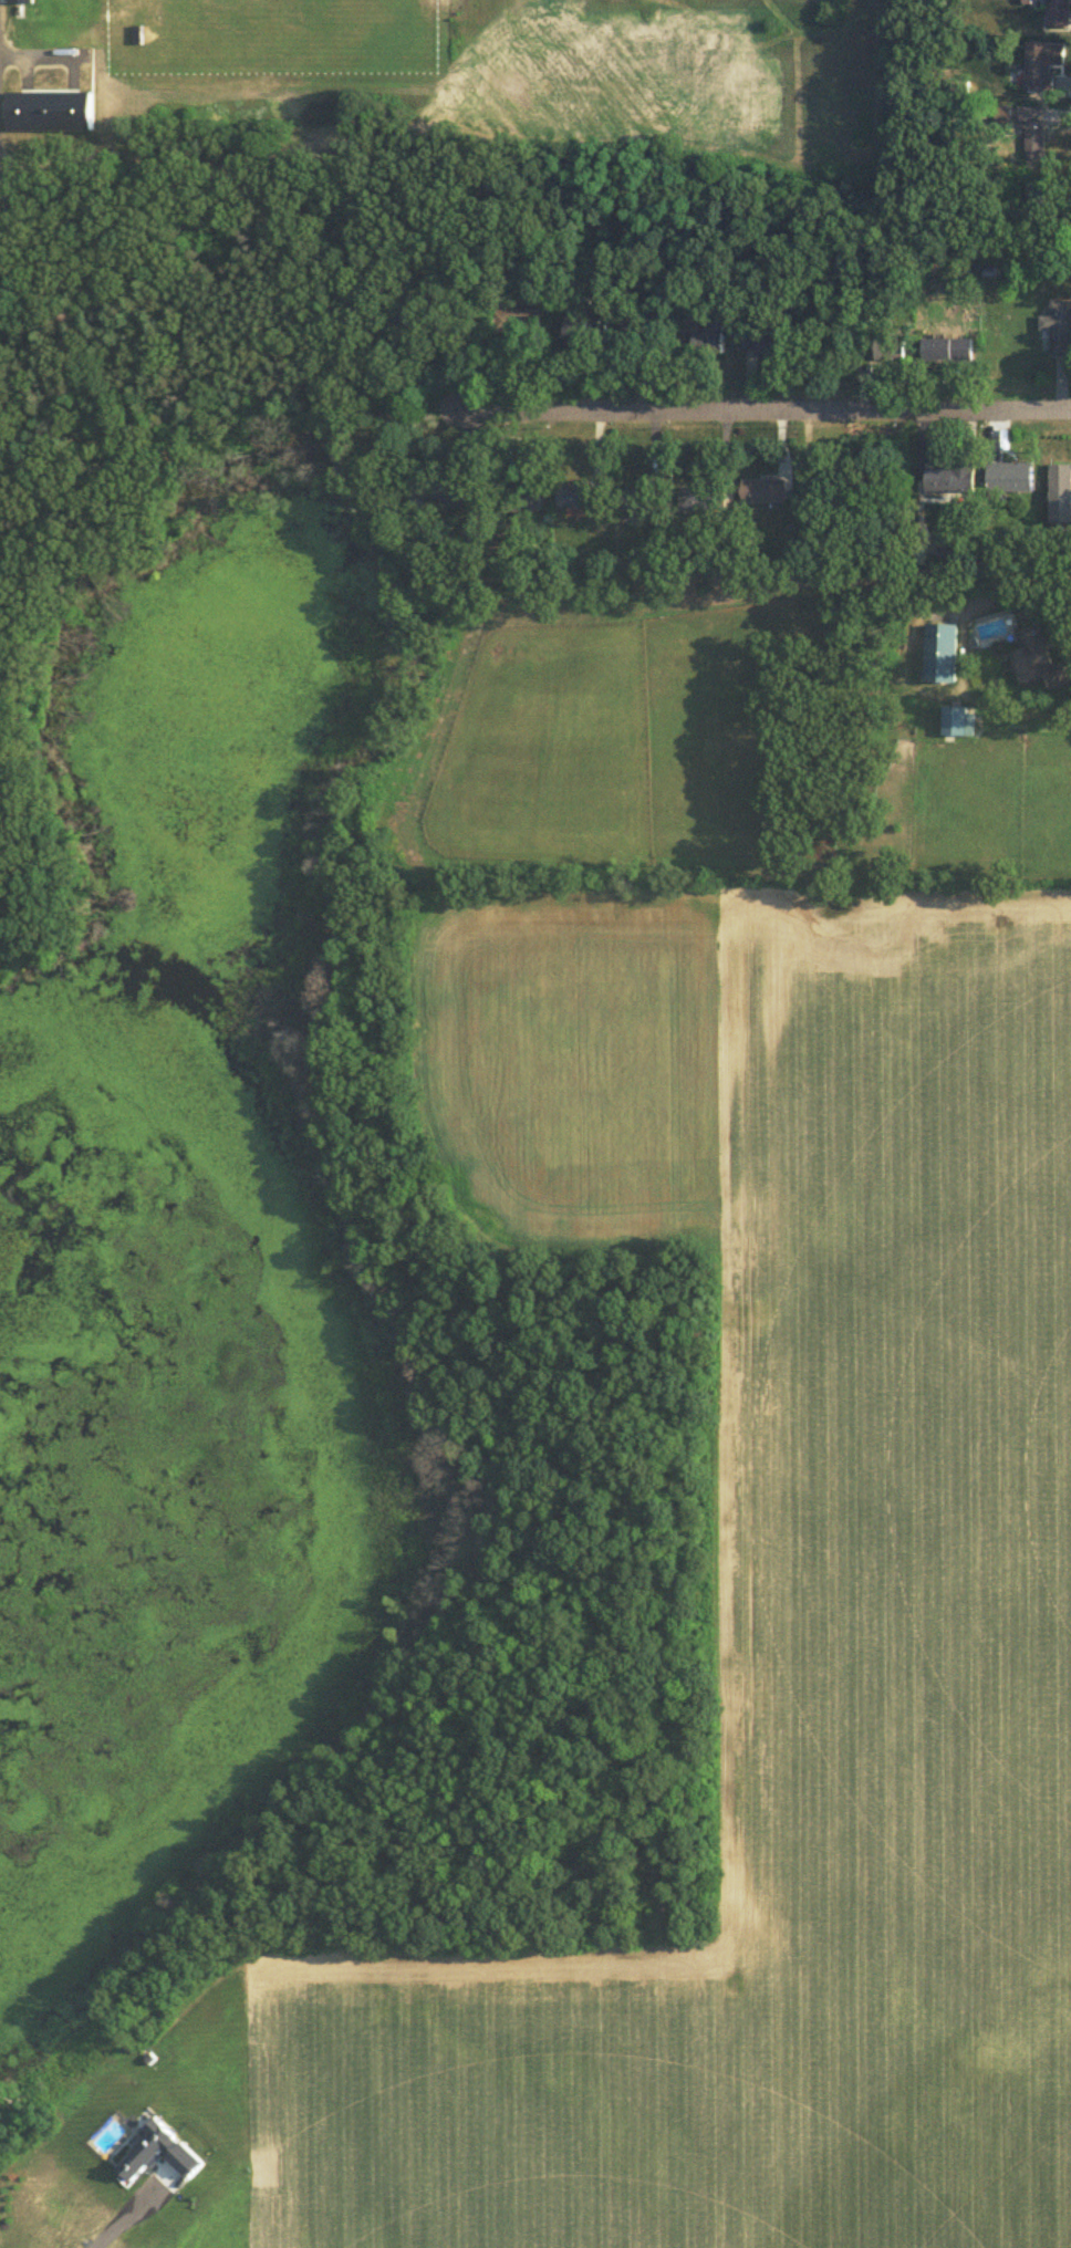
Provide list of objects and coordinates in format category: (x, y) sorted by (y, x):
building: (21, 0)
building: (1057, 12)
building: (1042, 62)
road: (13, 216)
building: (1059, 324)
building: (581, 332)
building: (711, 340)
building: (772, 343)
road: (751, 403)
building: (1010, 475)
building: (950, 476)
building: (767, 489)
building: (1060, 490)
building: (579, 492)
building: (700, 496)
building: (637, 510)
building: (942, 649)
building: (1037, 657)
building: (957, 718)
crop: (561, 1051)
crop: (784, 1676)
building: (149, 2056)
building: (157, 2148)
road: (135, 2206)

